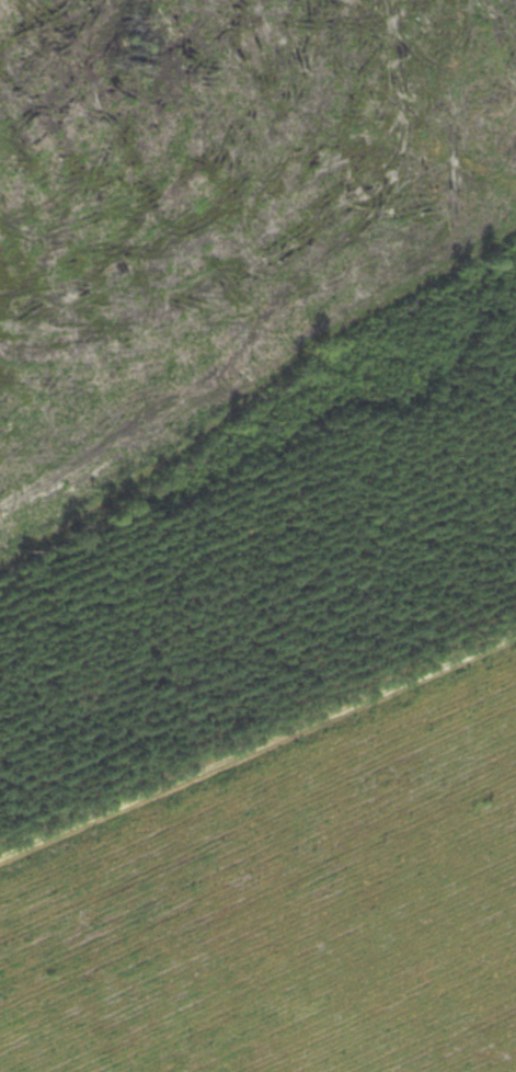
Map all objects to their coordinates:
road: (257, 742)

